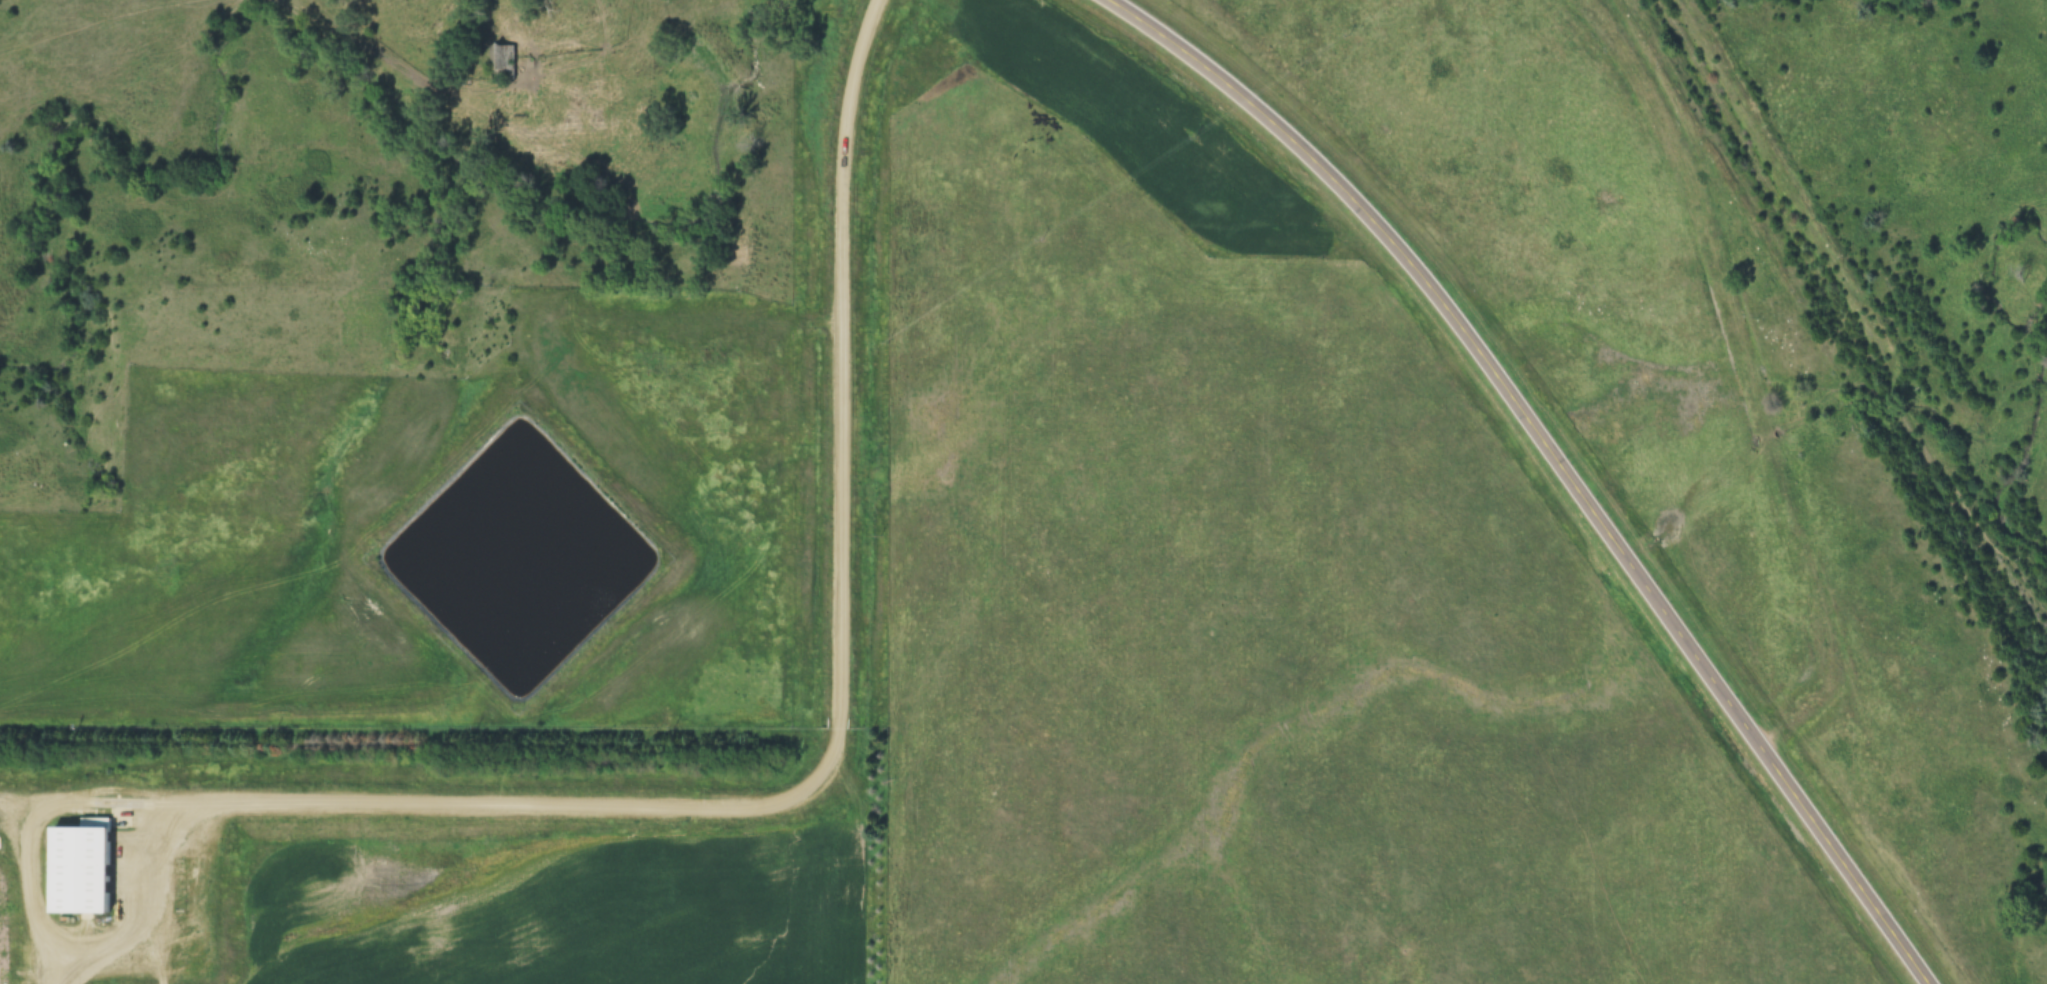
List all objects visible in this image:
building: (502, 61)
road: (1555, 458)
building: (1120, 616)
road: (834, 717)
building: (81, 869)
road: (44, 924)

